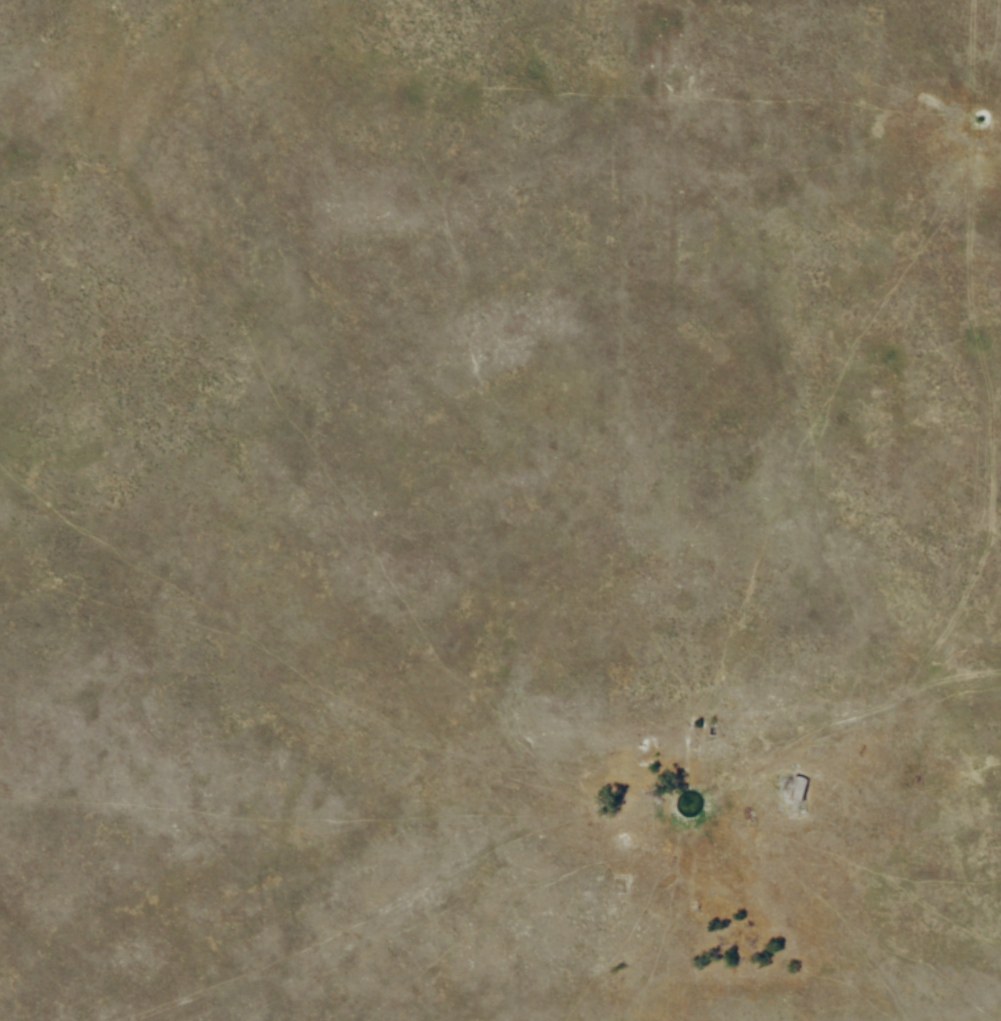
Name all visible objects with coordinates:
building: (793, 790)

